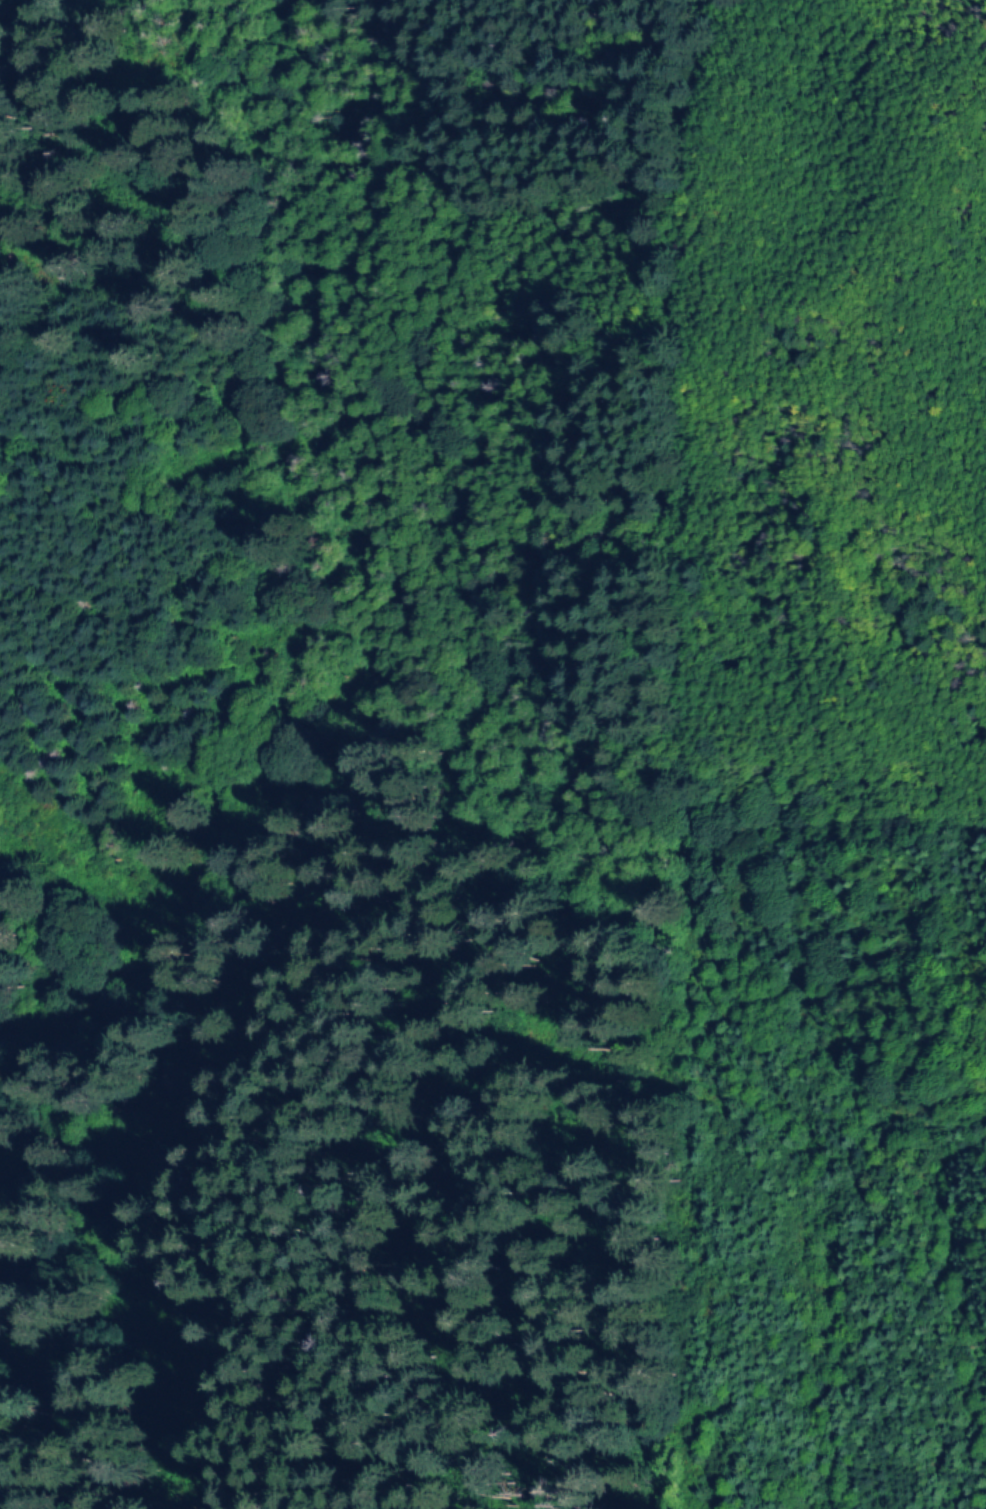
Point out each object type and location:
road: (21, 345)

